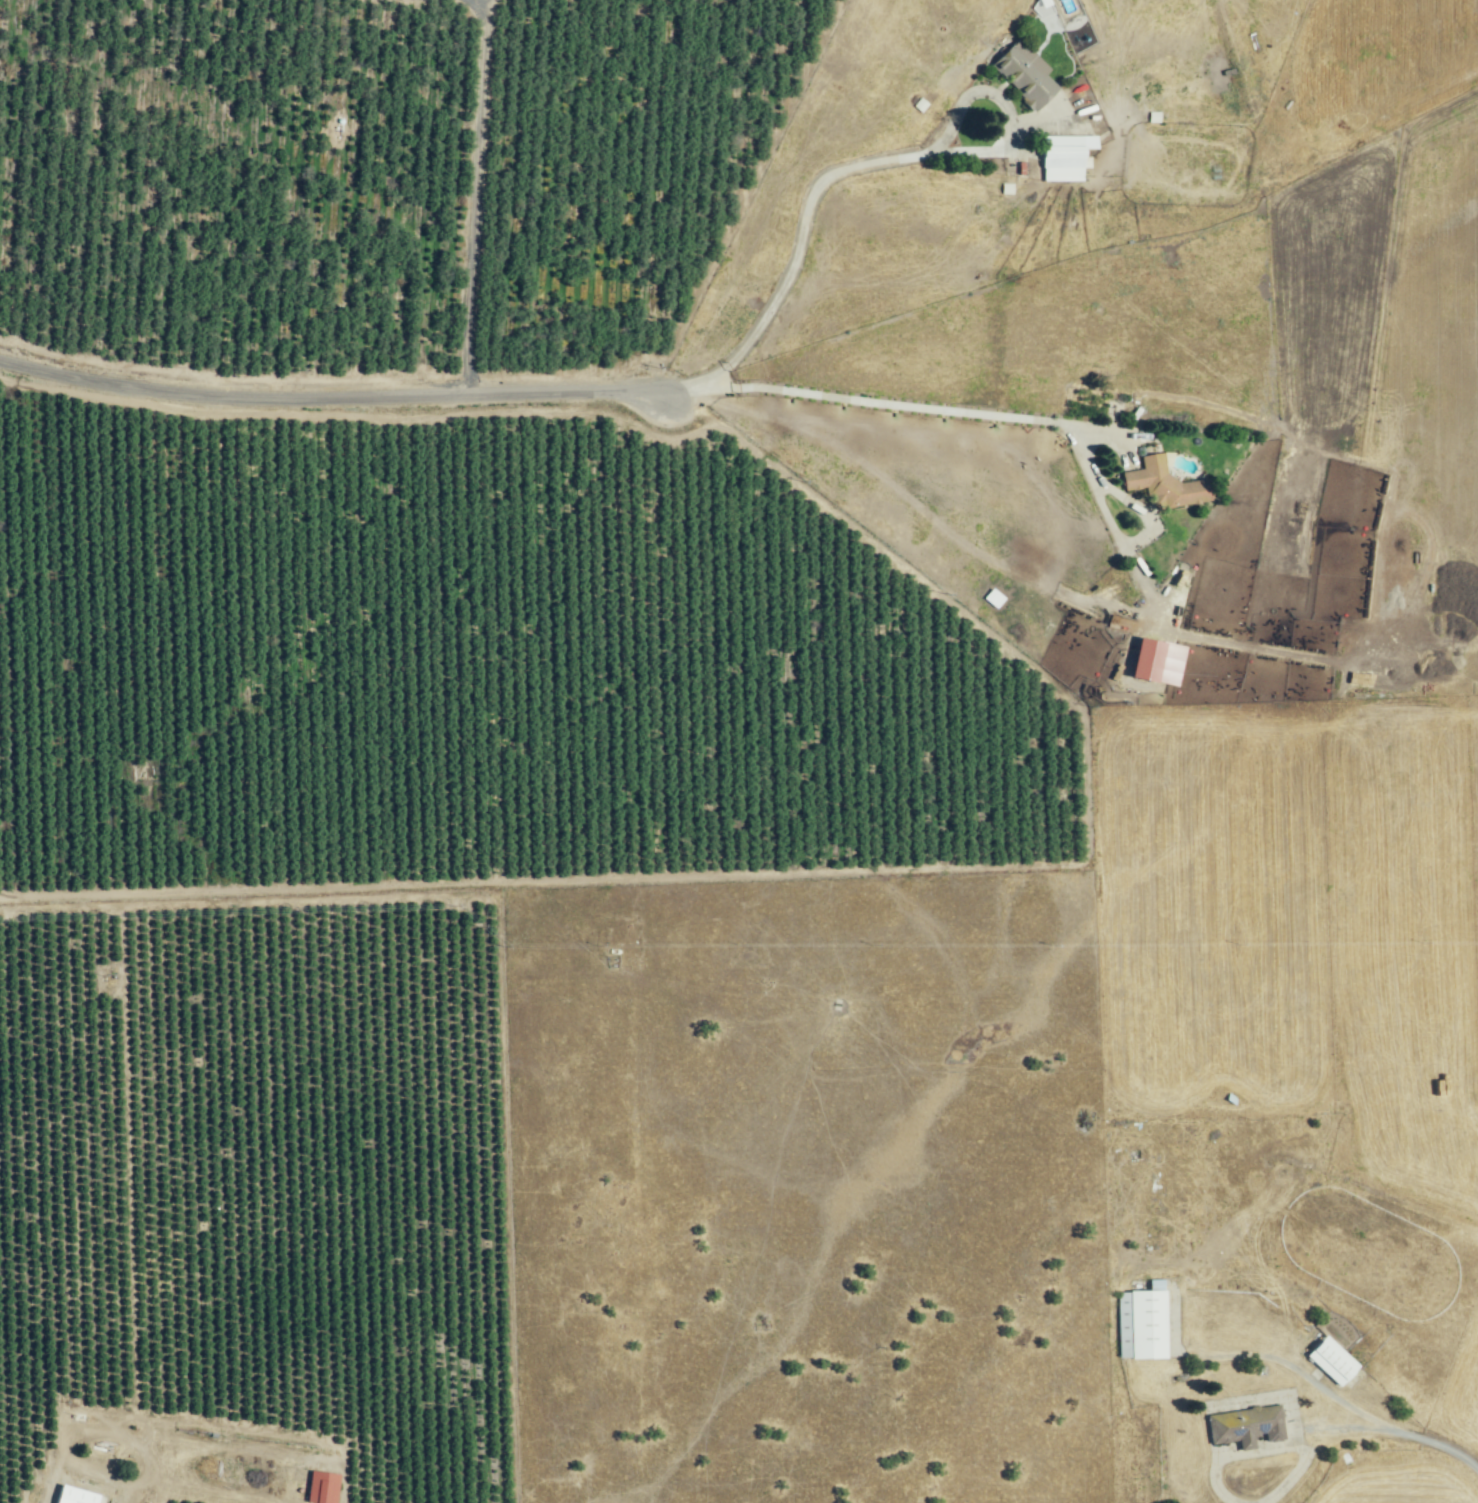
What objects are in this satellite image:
building: (1021, 73)
building: (1061, 156)
road: (847, 168)
crop: (378, 187)
road: (477, 198)
road: (331, 395)
road: (984, 413)
building: (1163, 484)
crop: (239, 1080)
building: (1140, 1324)
building: (1330, 1360)
road: (1336, 1396)
building: (252, 1411)
building: (303, 1418)
building: (354, 1425)
building: (1243, 1426)
road: (1356, 1428)
building: (408, 1432)
crop: (191, 1481)
building: (318, 1487)
building: (73, 1488)
crop: (410, 1497)

